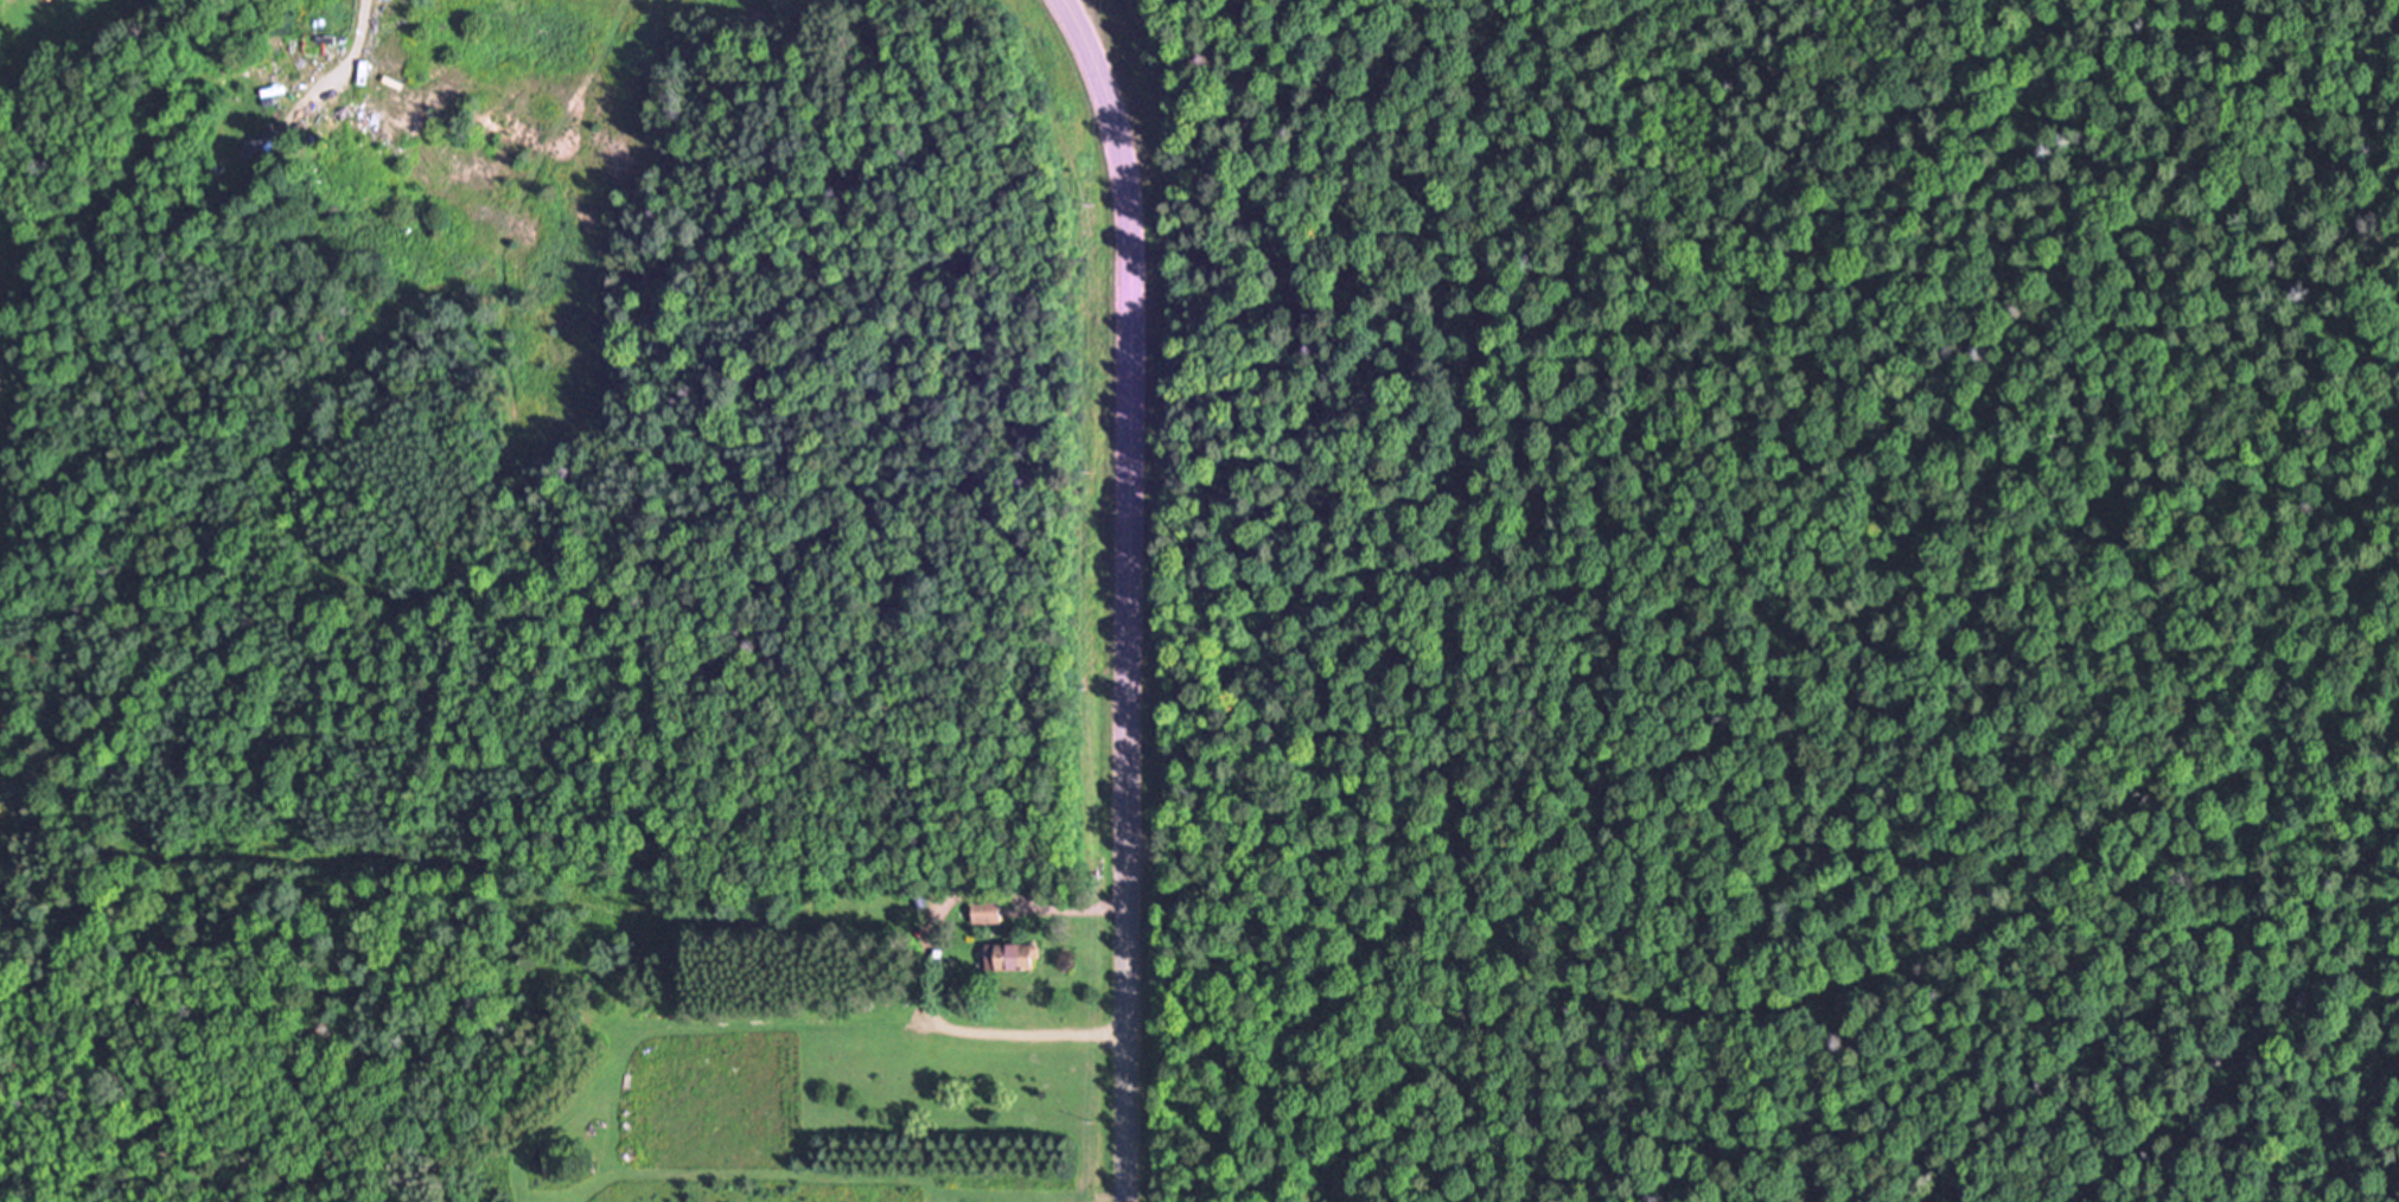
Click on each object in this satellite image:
building: (643, 5)
road: (350, 58)
building: (267, 136)
building: (500, 203)
road: (1129, 595)
building: (988, 910)
building: (1013, 955)
road: (932, 959)

